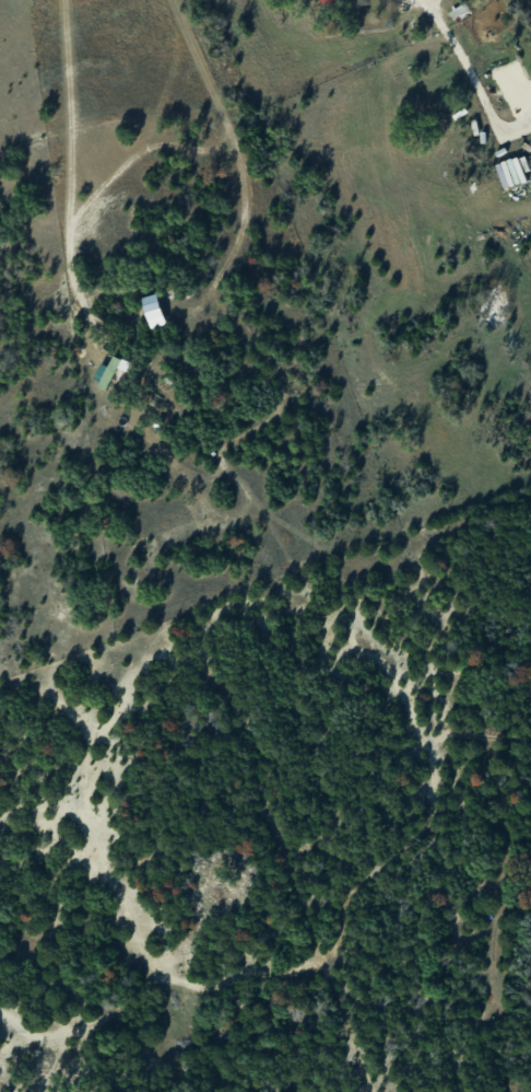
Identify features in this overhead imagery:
road: (233, 158)
building: (152, 311)
building: (105, 372)

